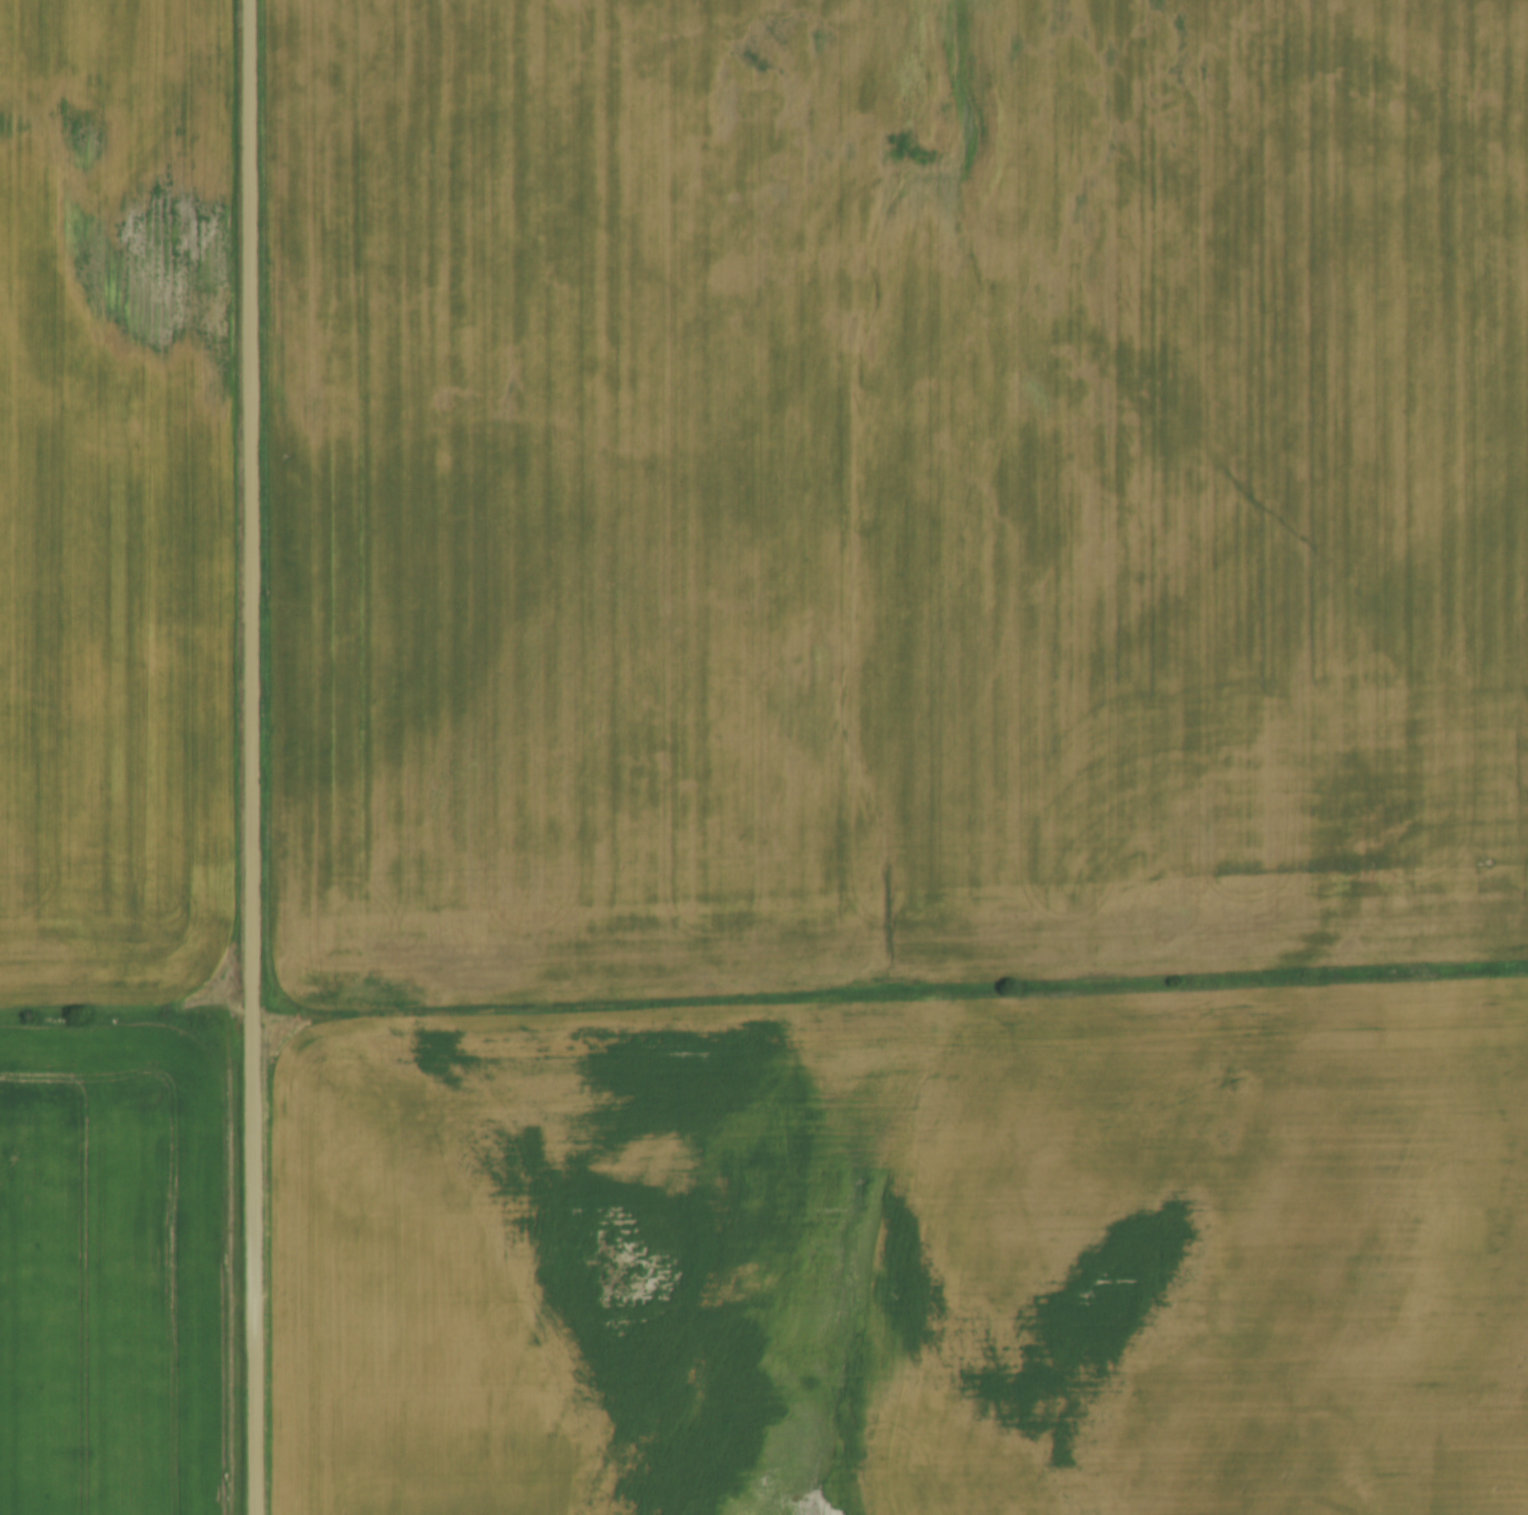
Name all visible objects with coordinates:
road: (249, 757)
road: (125, 1015)

